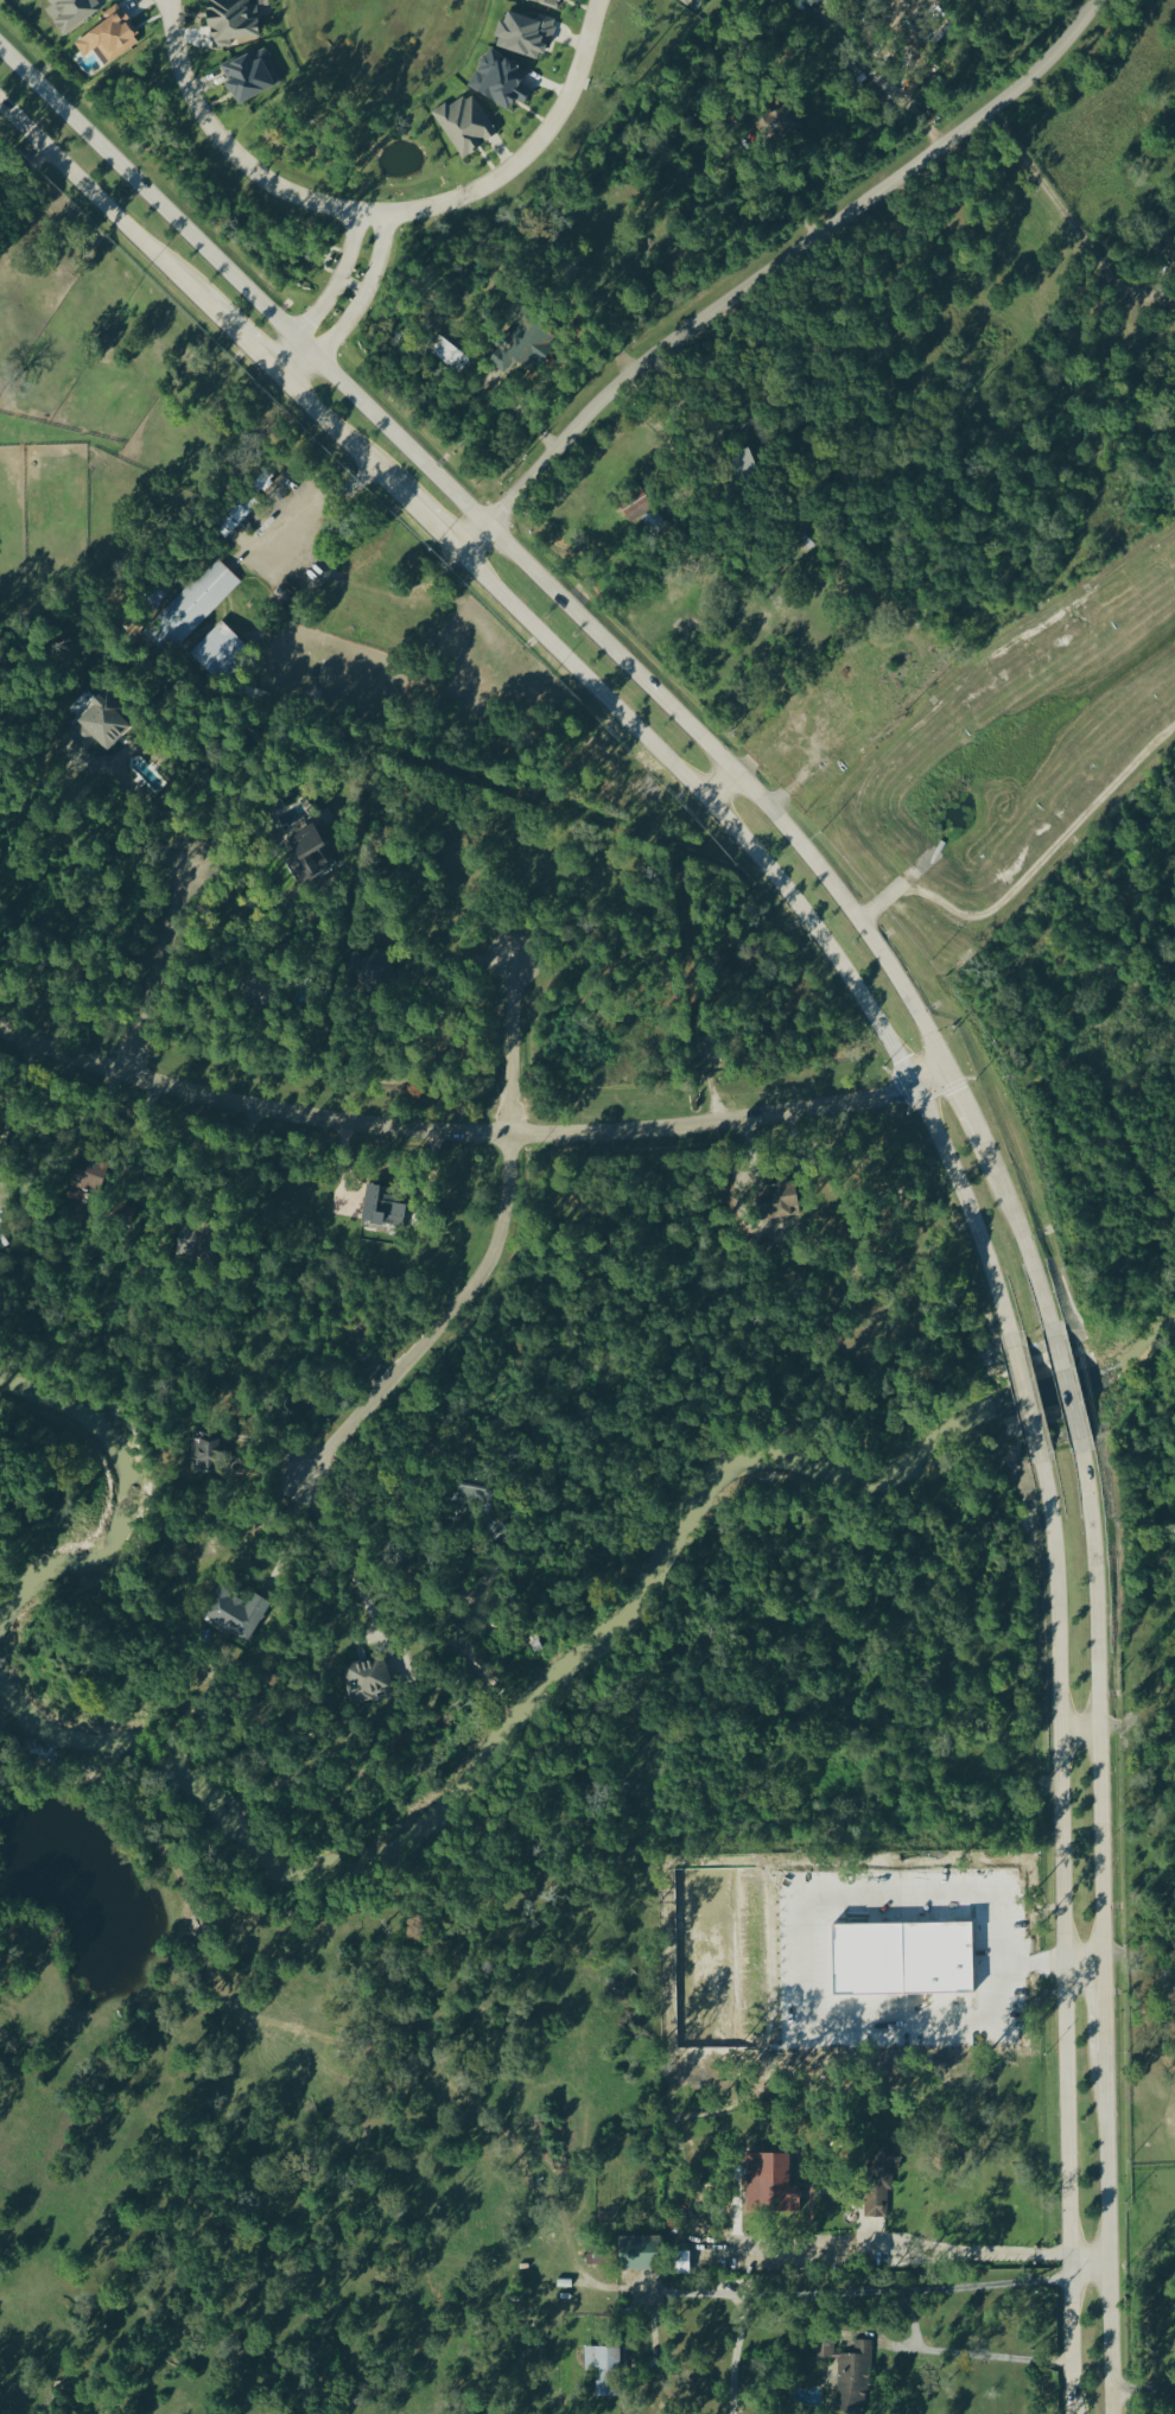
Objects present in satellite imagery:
building: (690, 2)
building: (550, 4)
building: (74, 13)
building: (233, 21)
building: (527, 36)
building: (112, 38)
building: (252, 77)
building: (502, 82)
building: (780, 123)
building: (468, 127)
road: (227, 146)
road: (527, 155)
road: (104, 205)
road: (1065, 211)
road: (769, 266)
road: (338, 282)
building: (1174, 292)
road: (366, 294)
road: (246, 341)
building: (536, 348)
road: (293, 361)
road: (514, 408)
road: (335, 428)
building: (749, 464)
building: (637, 510)
road: (304, 517)
road: (424, 517)
crop: (217, 520)
road: (498, 536)
building: (195, 606)
building: (220, 652)
building: (108, 722)
road: (158, 762)
road: (722, 786)
road: (144, 798)
building: (630, 799)
building: (315, 856)
road: (798, 908)
road: (457, 961)
road: (157, 965)
road: (510, 1047)
traffic signals: (944, 1067)
road: (20, 1074)
traffic signals: (914, 1084)
road: (965, 1110)
road: (469, 1130)
building: (88, 1177)
road: (2, 1195)
building: (790, 1200)
building: (388, 1207)
building: (201, 1241)
road: (1022, 1244)
road: (438, 1323)
road: (1067, 1392)
road: (1027, 1403)
building: (207, 1453)
road: (341, 1556)
building: (241, 1615)
road: (1098, 1708)
road: (1079, 1729)
river: (461, 1791)
road: (1062, 1935)
road: (922, 1952)
building: (875, 1965)
road: (1084, 1970)
road: (1104, 1997)
crop: (322, 2180)
building: (776, 2183)
crop: (1151, 2189)
building: (881, 2202)
road: (1109, 2219)
building: (644, 2254)
road: (888, 2254)
building: (601, 2257)
road: (1090, 2266)
road: (834, 2288)
road: (964, 2351)
building: (604, 2369)
building: (856, 2382)
road: (1143, 2382)

